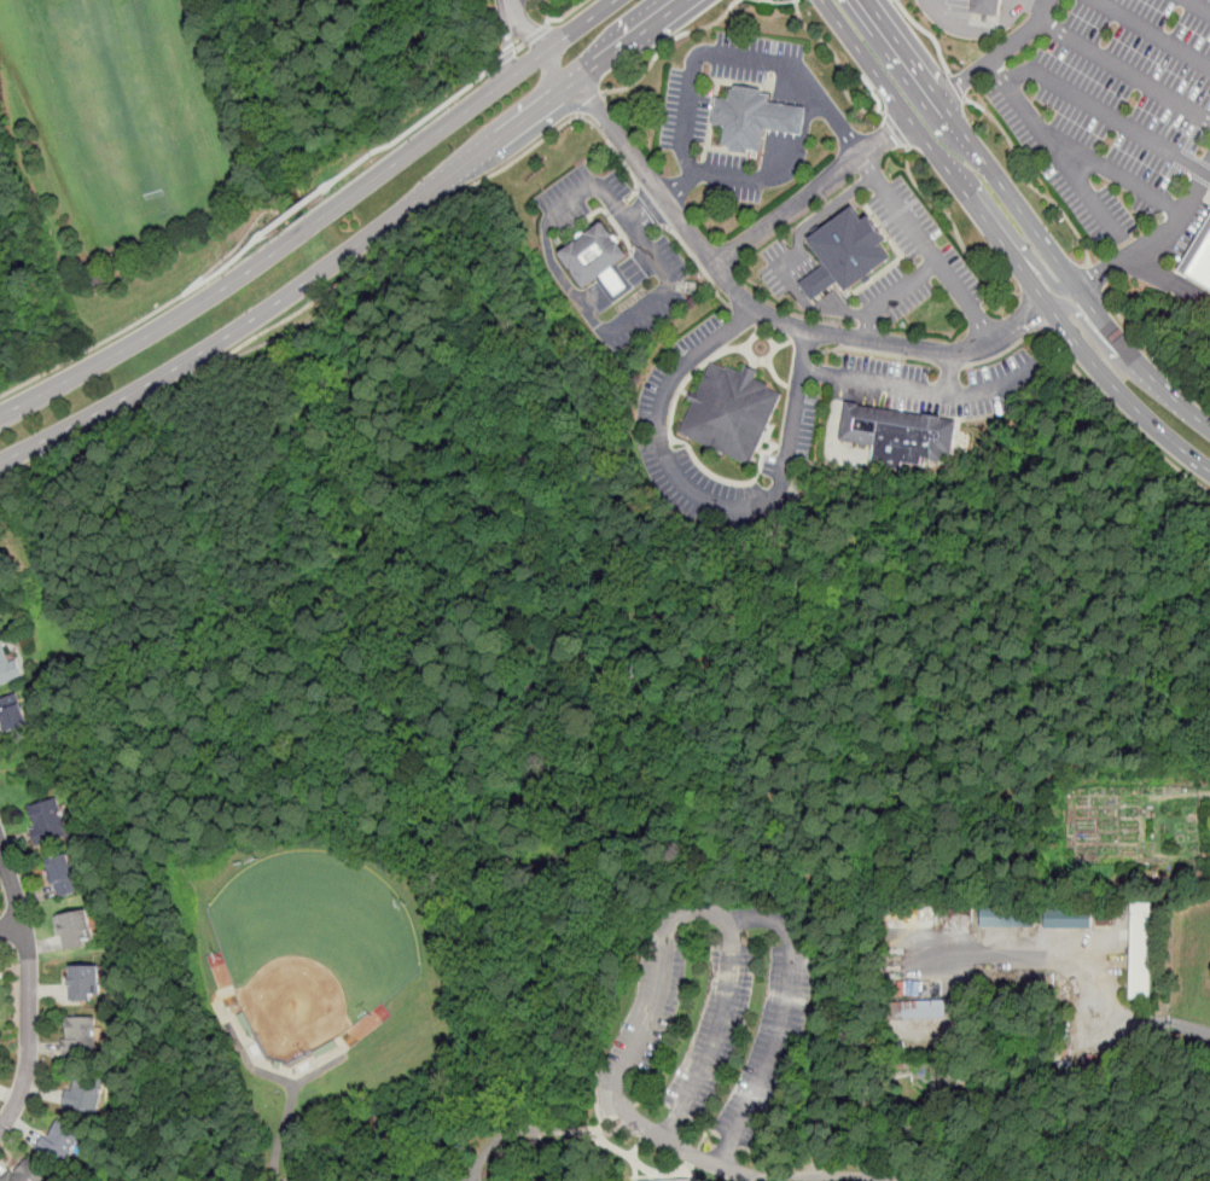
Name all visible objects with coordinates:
road: (1040, 2)
road: (1200, 5)
building: (984, 7)
road: (569, 12)
road: (582, 28)
road: (525, 29)
road: (978, 29)
road: (927, 34)
road: (1152, 34)
road: (522, 45)
road: (664, 45)
road: (711, 52)
road: (1001, 54)
road: (838, 62)
road: (1125, 71)
road: (955, 87)
road: (588, 104)
park: (130, 107)
parking lot: (1113, 107)
building: (740, 115)
road: (1109, 115)
building: (784, 117)
road: (412, 128)
road: (897, 129)
park: (196, 134)
road: (1055, 149)
road: (618, 153)
road: (786, 164)
road: (1116, 171)
road: (1028, 182)
road: (469, 186)
road: (814, 192)
road: (651, 206)
road: (293, 211)
road: (1029, 222)
road: (953, 226)
road: (1012, 233)
road: (1154, 244)
road: (799, 246)
building: (851, 246)
road: (1005, 246)
road: (353, 248)
road: (647, 248)
road: (281, 249)
building: (593, 255)
road: (935, 258)
road: (699, 264)
building: (1202, 264)
road: (225, 266)
road: (1168, 279)
road: (1093, 280)
building: (819, 281)
road: (563, 283)
road: (618, 283)
road: (339, 284)
building: (617, 284)
road: (894, 296)
road: (746, 304)
road: (156, 310)
road: (1032, 314)
road: (744, 316)
road: (280, 336)
road: (770, 342)
road: (804, 344)
road: (1100, 345)
road: (1004, 350)
road: (875, 351)
road: (1152, 354)
road: (948, 366)
road: (946, 374)
road: (918, 391)
road: (159, 395)
building: (728, 415)
road: (1121, 418)
building: (895, 436)
road: (705, 496)
building: (7, 668)
building: (12, 717)
park: (645, 769)
road: (1205, 793)
road: (1104, 804)
road: (1109, 804)
road: (1125, 804)
road: (1075, 813)
road: (1188, 813)
road: (1197, 814)
road: (1082, 816)
road: (1092, 816)
road: (1129, 816)
road: (1118, 818)
road: (1189, 819)
building: (47, 821)
road: (1191, 824)
road: (1185, 828)
road: (1112, 830)
road: (1179, 830)
road: (1191, 830)
road: (1096, 836)
road: (1158, 836)
road: (1176, 840)
road: (1192, 840)
road: (1112, 853)
road: (1206, 854)
building: (64, 875)
building: (1069, 917)
road: (729, 918)
building: (1007, 918)
road: (11, 925)
building: (76, 927)
park: (312, 947)
building: (1141, 949)
road: (1092, 962)
building: (85, 981)
road: (28, 989)
building: (919, 1008)
road: (652, 1012)
parking lot: (711, 1032)
road: (720, 1032)
building: (80, 1036)
road: (1104, 1036)
road: (772, 1048)
road: (1016, 1061)
road: (252, 1069)
road: (920, 1077)
road: (975, 1082)
road: (993, 1089)
building: (83, 1094)
road: (805, 1099)
road: (283, 1130)
road: (536, 1130)
road: (592, 1133)
road: (715, 1133)
road: (944, 1134)
road: (668, 1138)
road: (818, 1138)
road: (702, 1141)
building: (59, 1142)
road: (641, 1142)
road: (489, 1146)
road: (644, 1164)
road: (692, 1164)
building: (25, 1173)
road: (747, 1175)
road: (651, 1176)
road: (469, 1179)
road: (635, 1179)
building: (656, 1180)
building: (680, 1180)

